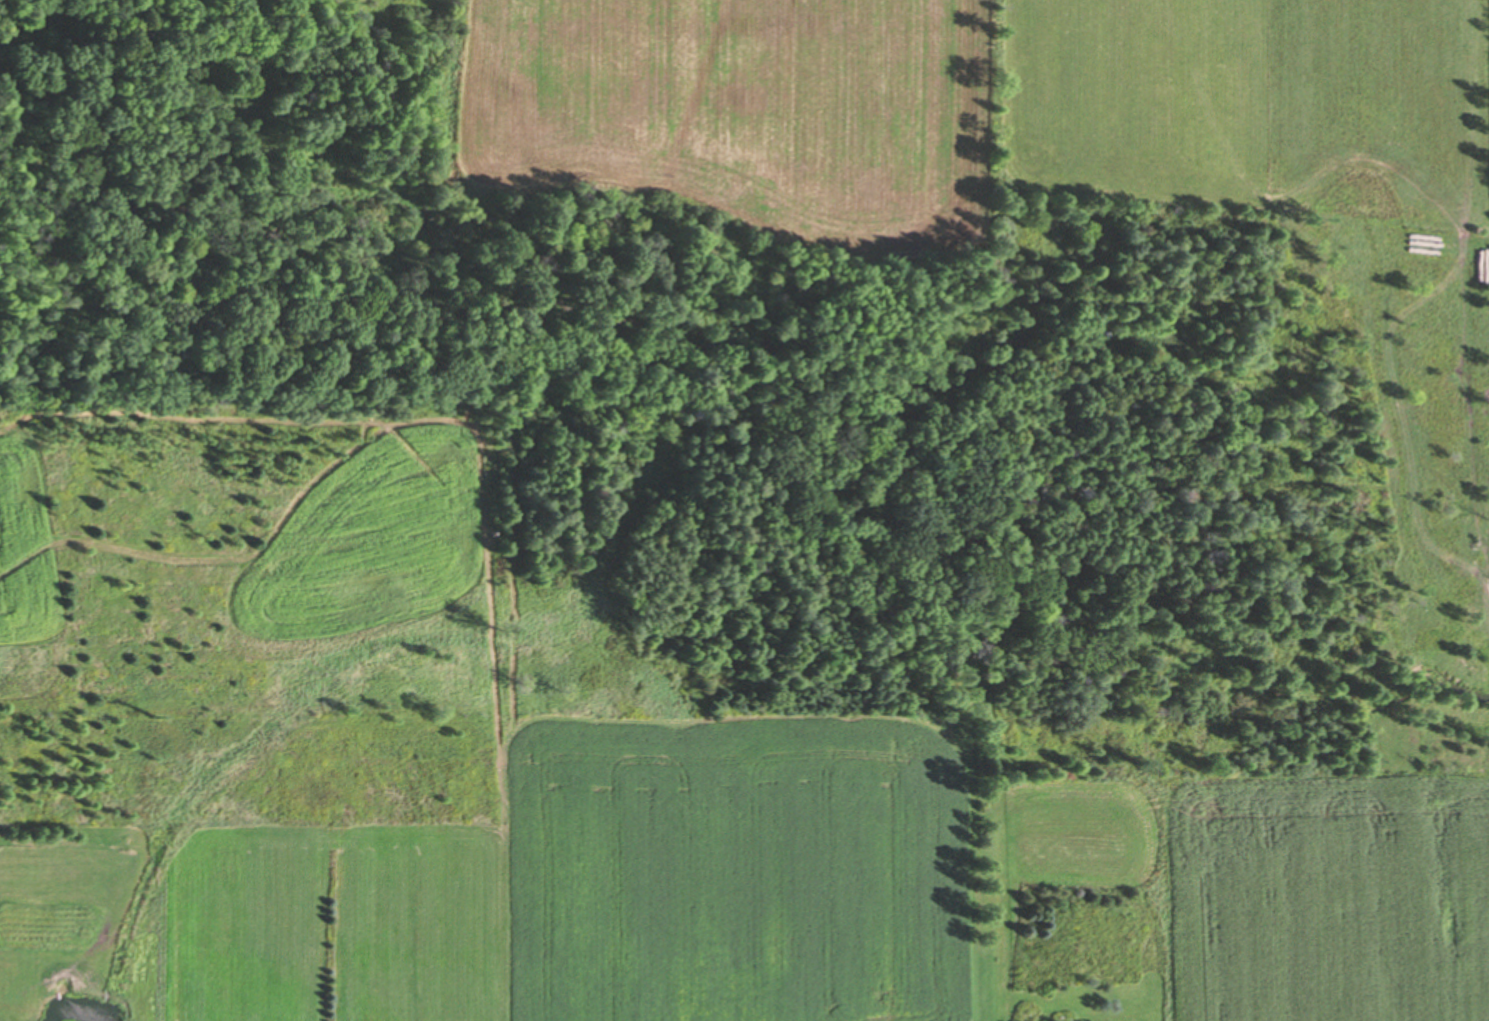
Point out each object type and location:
road: (1006, 916)

